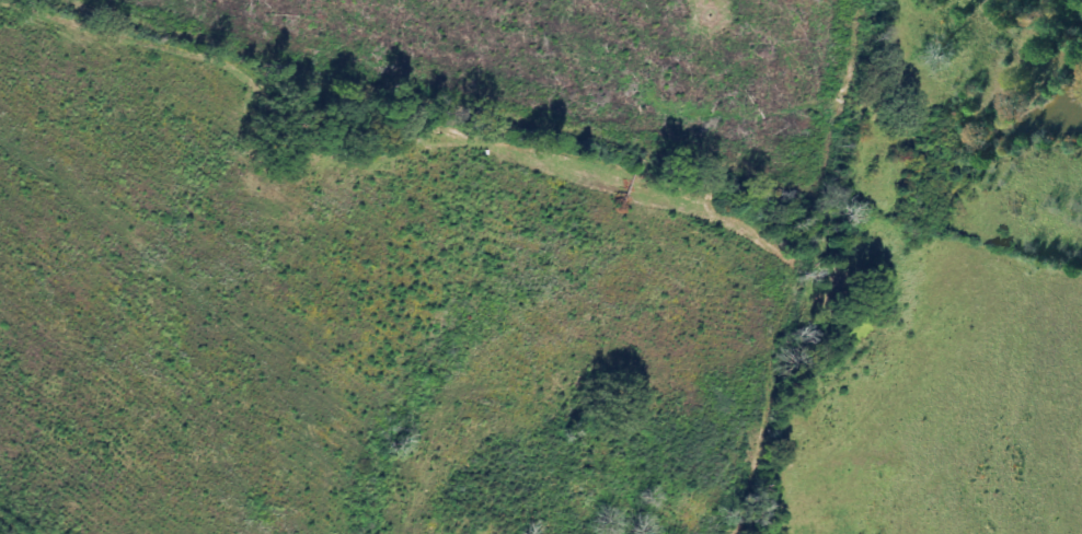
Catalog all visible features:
road: (9, 525)

